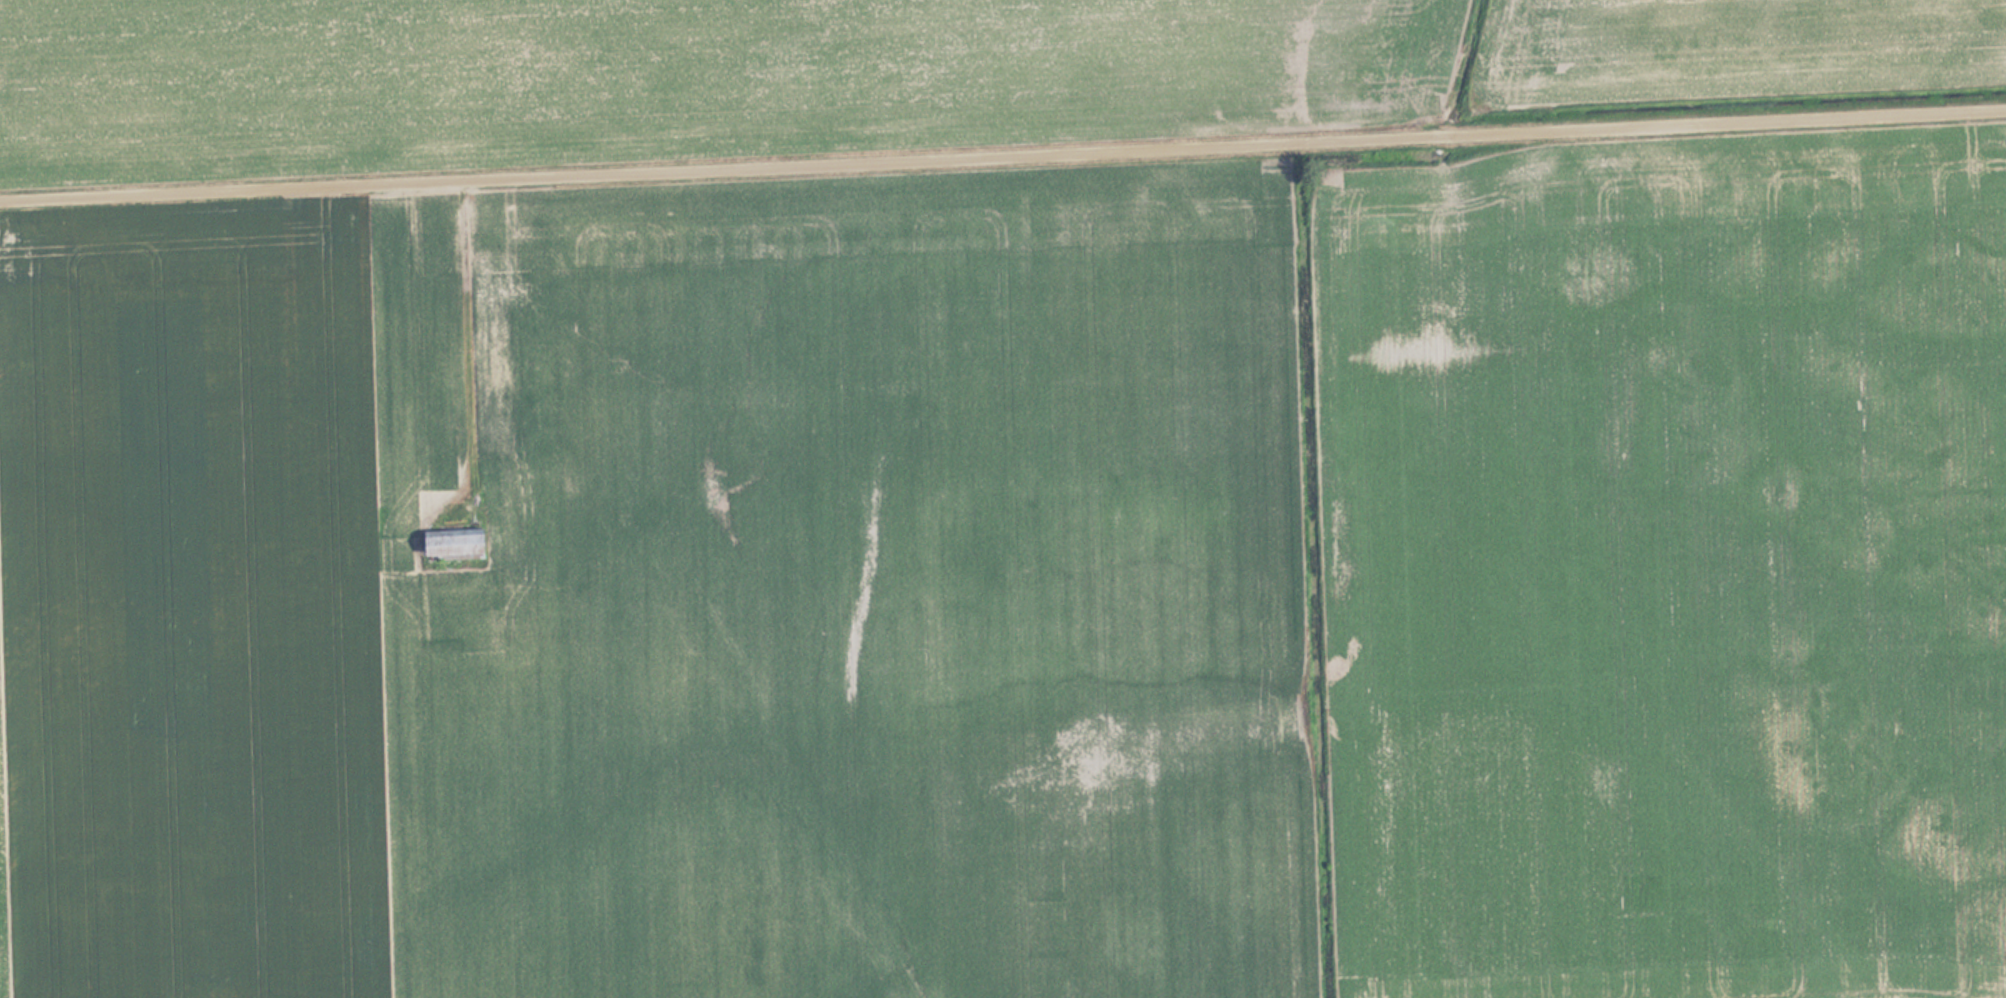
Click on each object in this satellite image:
crop: (874, 68)
road: (1003, 153)
building: (459, 545)

